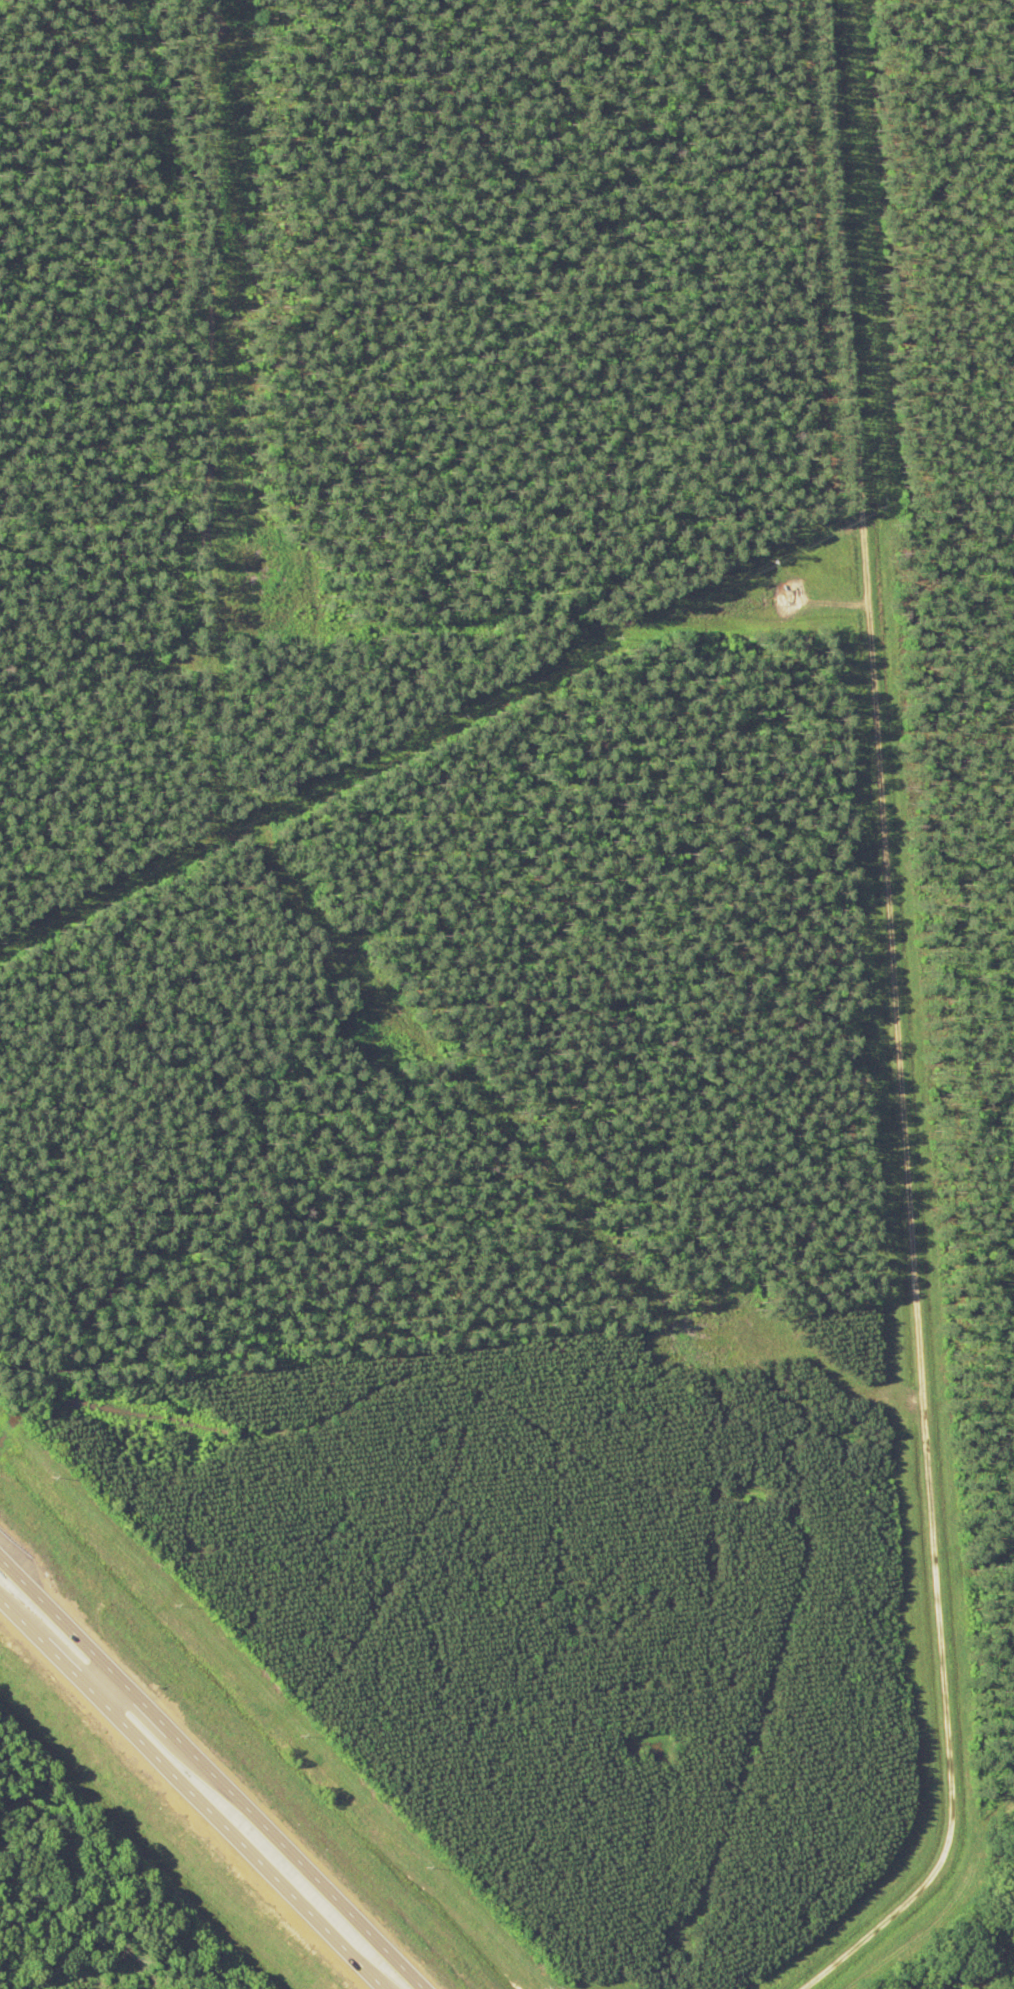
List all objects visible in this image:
road: (105, 1690)
road: (208, 1775)
road: (189, 1796)

